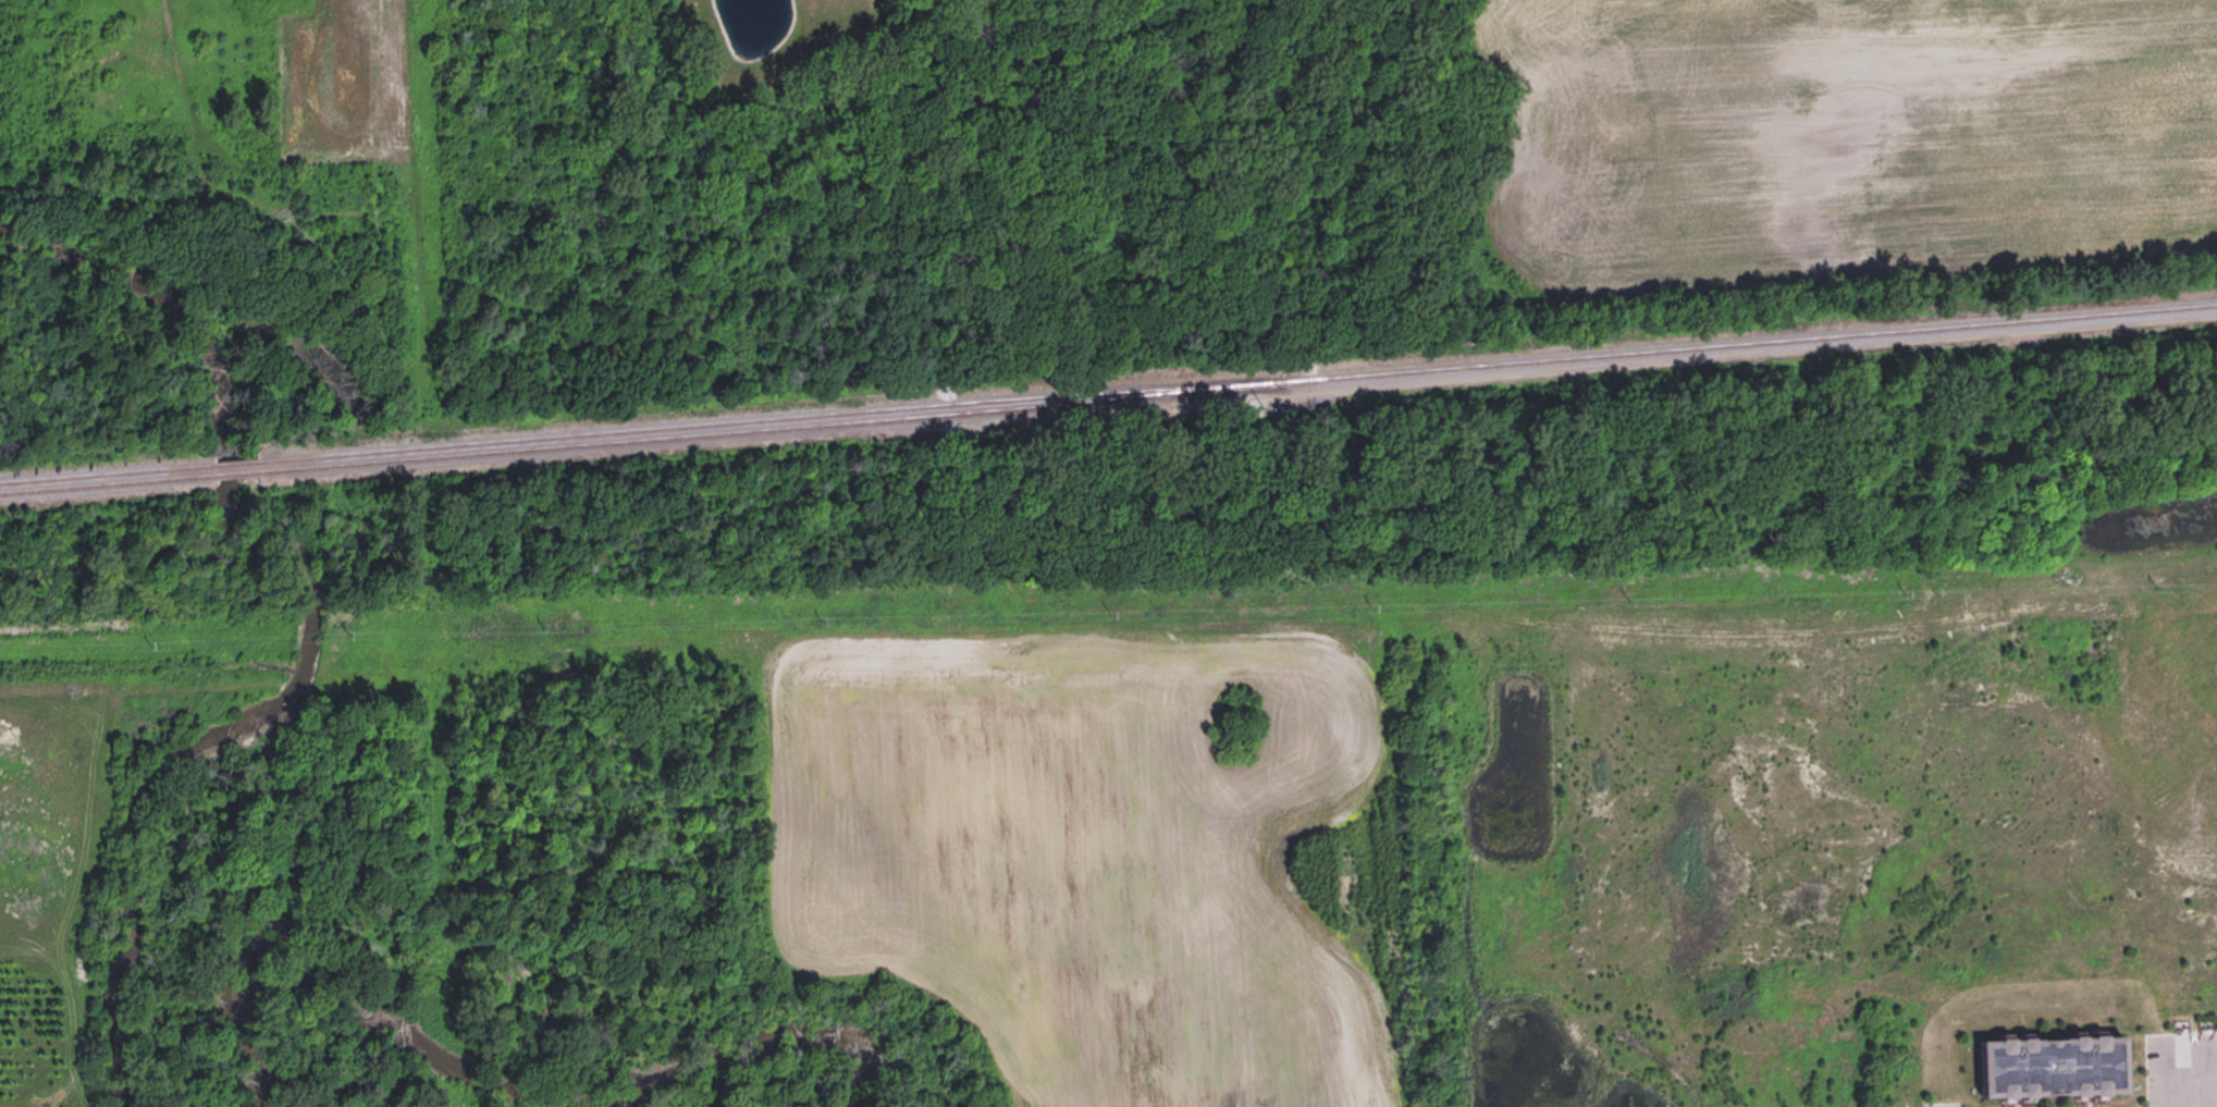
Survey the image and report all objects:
railway: (1748, 342)
railway: (765, 419)
railway: (766, 429)
railway: (233, 463)
railway: (107, 472)
railway: (234, 472)
railway: (107, 483)
building: (2059, 1066)

